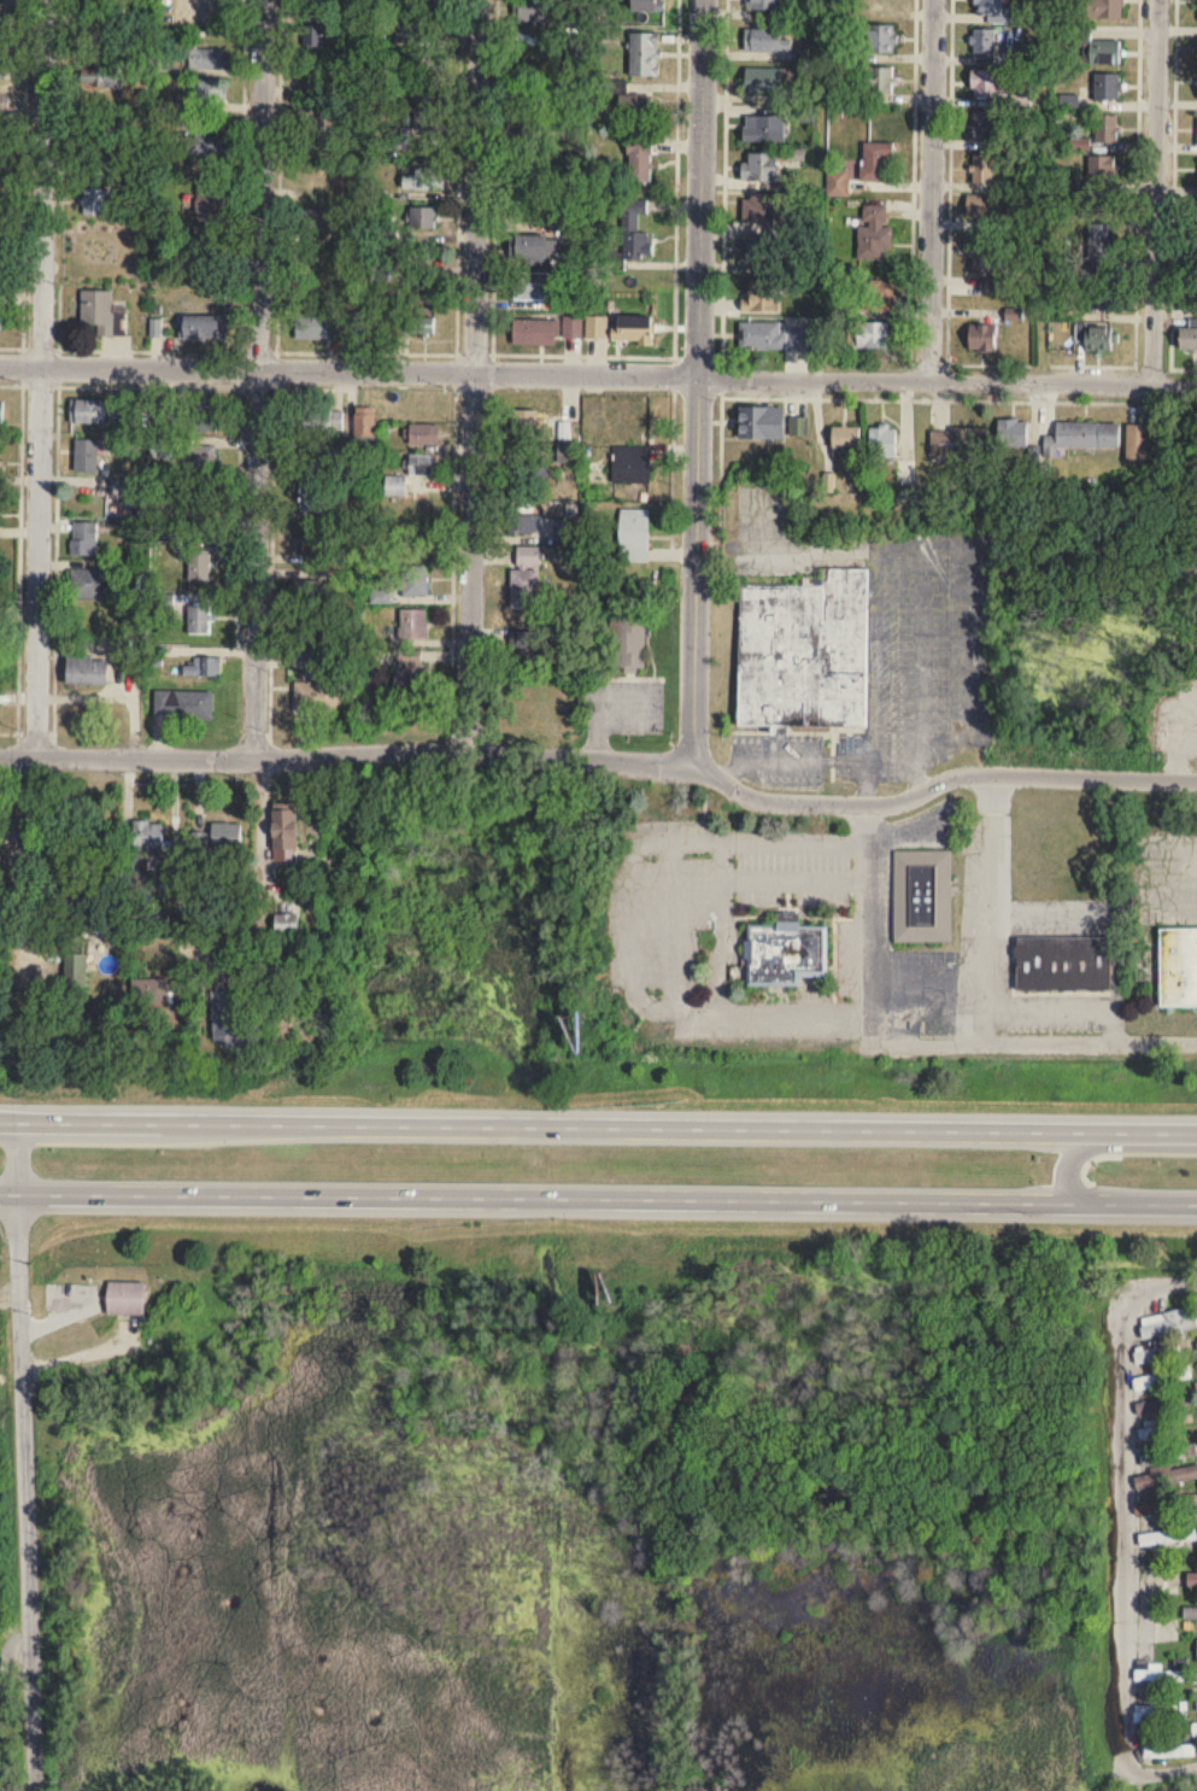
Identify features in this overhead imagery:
building: (307, 2)
building: (761, 4)
building: (651, 5)
building: (1103, 8)
building: (991, 10)
building: (535, 11)
building: (4, 18)
building: (411, 29)
building: (316, 33)
building: (880, 39)
building: (764, 40)
building: (984, 43)
building: (1101, 51)
building: (647, 53)
building: (206, 58)
building: (5, 60)
building: (110, 72)
building: (311, 74)
building: (767, 78)
building: (880, 81)
building: (985, 82)
building: (553, 83)
building: (1107, 86)
building: (216, 88)
building: (1, 98)
building: (638, 106)
building: (430, 116)
building: (0, 119)
building: (313, 125)
building: (984, 125)
building: (762, 128)
building: (1104, 128)
building: (401, 137)
building: (203, 142)
building: (1, 153)
building: (642, 159)
building: (874, 162)
building: (104, 164)
building: (758, 166)
building: (1099, 168)
building: (982, 169)
road: (61, 174)
road: (243, 175)
road: (278, 175)
road: (458, 175)
building: (427, 180)
road: (1173, 183)
road: (932, 188)
road: (1043, 189)
road: (23, 191)
road: (1154, 192)
building: (1, 195)
building: (94, 198)
building: (210, 198)
road: (913, 198)
building: (981, 207)
building: (759, 209)
building: (423, 218)
building: (310, 221)
building: (634, 232)
building: (873, 232)
building: (2, 239)
building: (532, 248)
building: (1099, 250)
building: (757, 251)
building: (982, 253)
road: (493, 267)
road: (723, 271)
building: (0, 273)
road: (675, 277)
building: (533, 286)
building: (426, 289)
building: (761, 295)
building: (876, 295)
building: (1098, 297)
building: (101, 310)
building: (1, 320)
building: (359, 321)
building: (424, 324)
building: (318, 326)
building: (209, 327)
building: (574, 327)
building: (599, 327)
building: (636, 328)
building: (538, 332)
building: (872, 335)
building: (1093, 335)
building: (773, 336)
building: (1187, 336)
building: (980, 338)
road: (80, 347)
road: (366, 350)
road: (1041, 363)
road: (348, 369)
road: (473, 376)
road: (39, 377)
road: (257, 377)
road: (947, 379)
road: (697, 381)
road: (122, 384)
road: (315, 386)
road: (926, 397)
building: (96, 411)
building: (2, 412)
building: (171, 416)
building: (207, 417)
building: (325, 420)
building: (369, 423)
building: (529, 423)
building: (758, 423)
building: (798, 427)
building: (1011, 433)
building: (426, 434)
building: (1085, 435)
building: (844, 437)
building: (881, 443)
building: (954, 443)
building: (1136, 443)
building: (164, 447)
building: (569, 453)
building: (88, 456)
building: (204, 458)
building: (426, 464)
building: (634, 464)
building: (136, 486)
building: (398, 486)
building: (313, 497)
building: (0, 514)
building: (526, 525)
building: (569, 531)
building: (638, 535)
building: (86, 539)
building: (313, 540)
building: (532, 556)
building: (201, 567)
building: (416, 581)
building: (89, 585)
building: (528, 589)
building: (307, 592)
building: (200, 619)
building: (416, 625)
building: (627, 643)
building: (313, 644)
building: (803, 652)
road: (921, 662)
building: (204, 667)
building: (90, 671)
building: (415, 677)
building: (319, 697)
building: (187, 704)
road: (8, 731)
road: (53, 731)
road: (1177, 751)
road: (347, 755)
road: (828, 759)
road: (939, 779)
road: (867, 782)
building: (292, 835)
building: (151, 836)
building: (221, 838)
road: (260, 872)
road: (18, 895)
building: (922, 897)
road: (987, 906)
road: (868, 921)
building: (295, 925)
road: (721, 930)
building: (785, 954)
building: (1062, 965)
building: (1177, 968)
road: (1050, 1003)
road: (1115, 1028)
building: (240, 1029)
road: (1034, 1042)
road: (8, 1120)
road: (608, 1124)
road: (1098, 1145)
road: (8, 1190)
road: (559, 1195)
road: (1150, 1201)
building: (130, 1298)
building: (1168, 1323)
building: (1156, 1354)
building: (1162, 1379)
building: (1156, 1429)
road: (24, 1456)
building: (1162, 1456)
road: (1122, 1534)
building: (1167, 1538)
building: (1192, 1580)
building: (1161, 1585)
building: (1190, 1614)
building: (1157, 1675)
building: (1156, 1716)
building: (1167, 1752)

